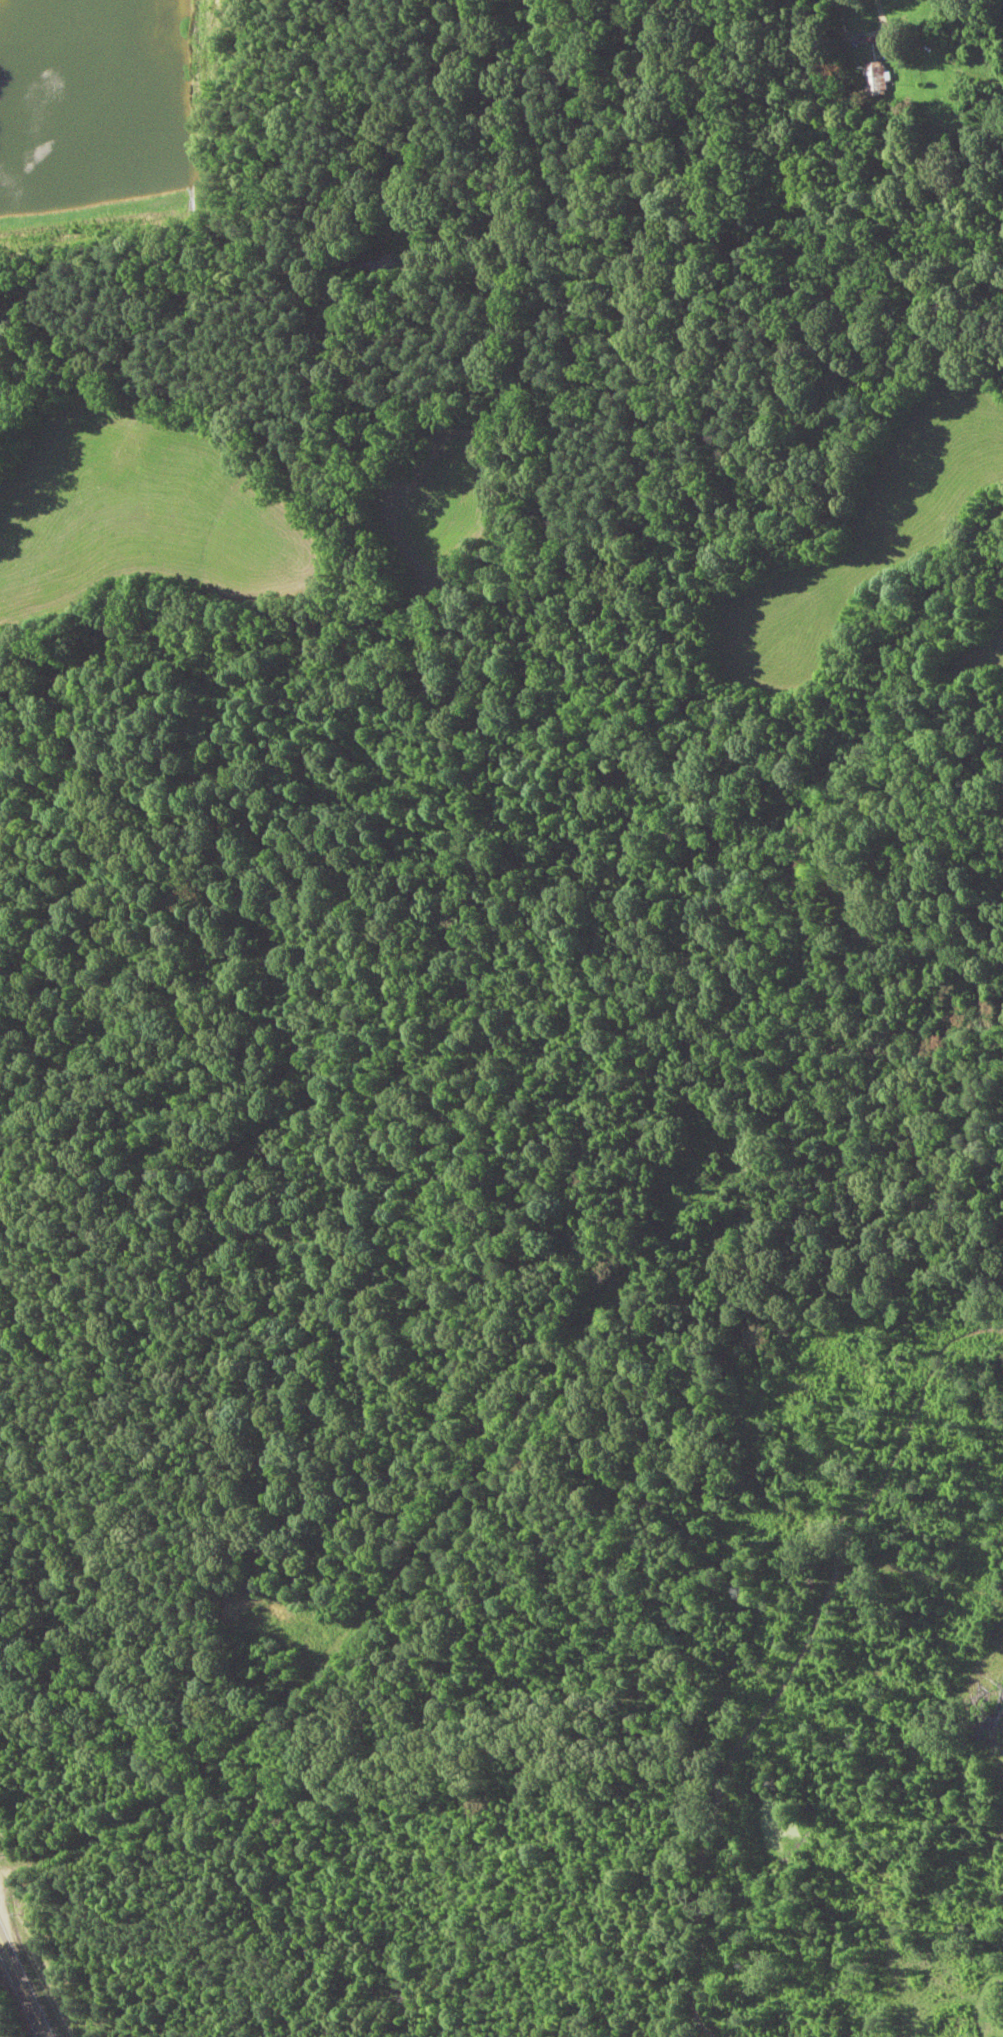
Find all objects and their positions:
road: (935, 50)
building: (876, 81)
road: (16, 2005)

